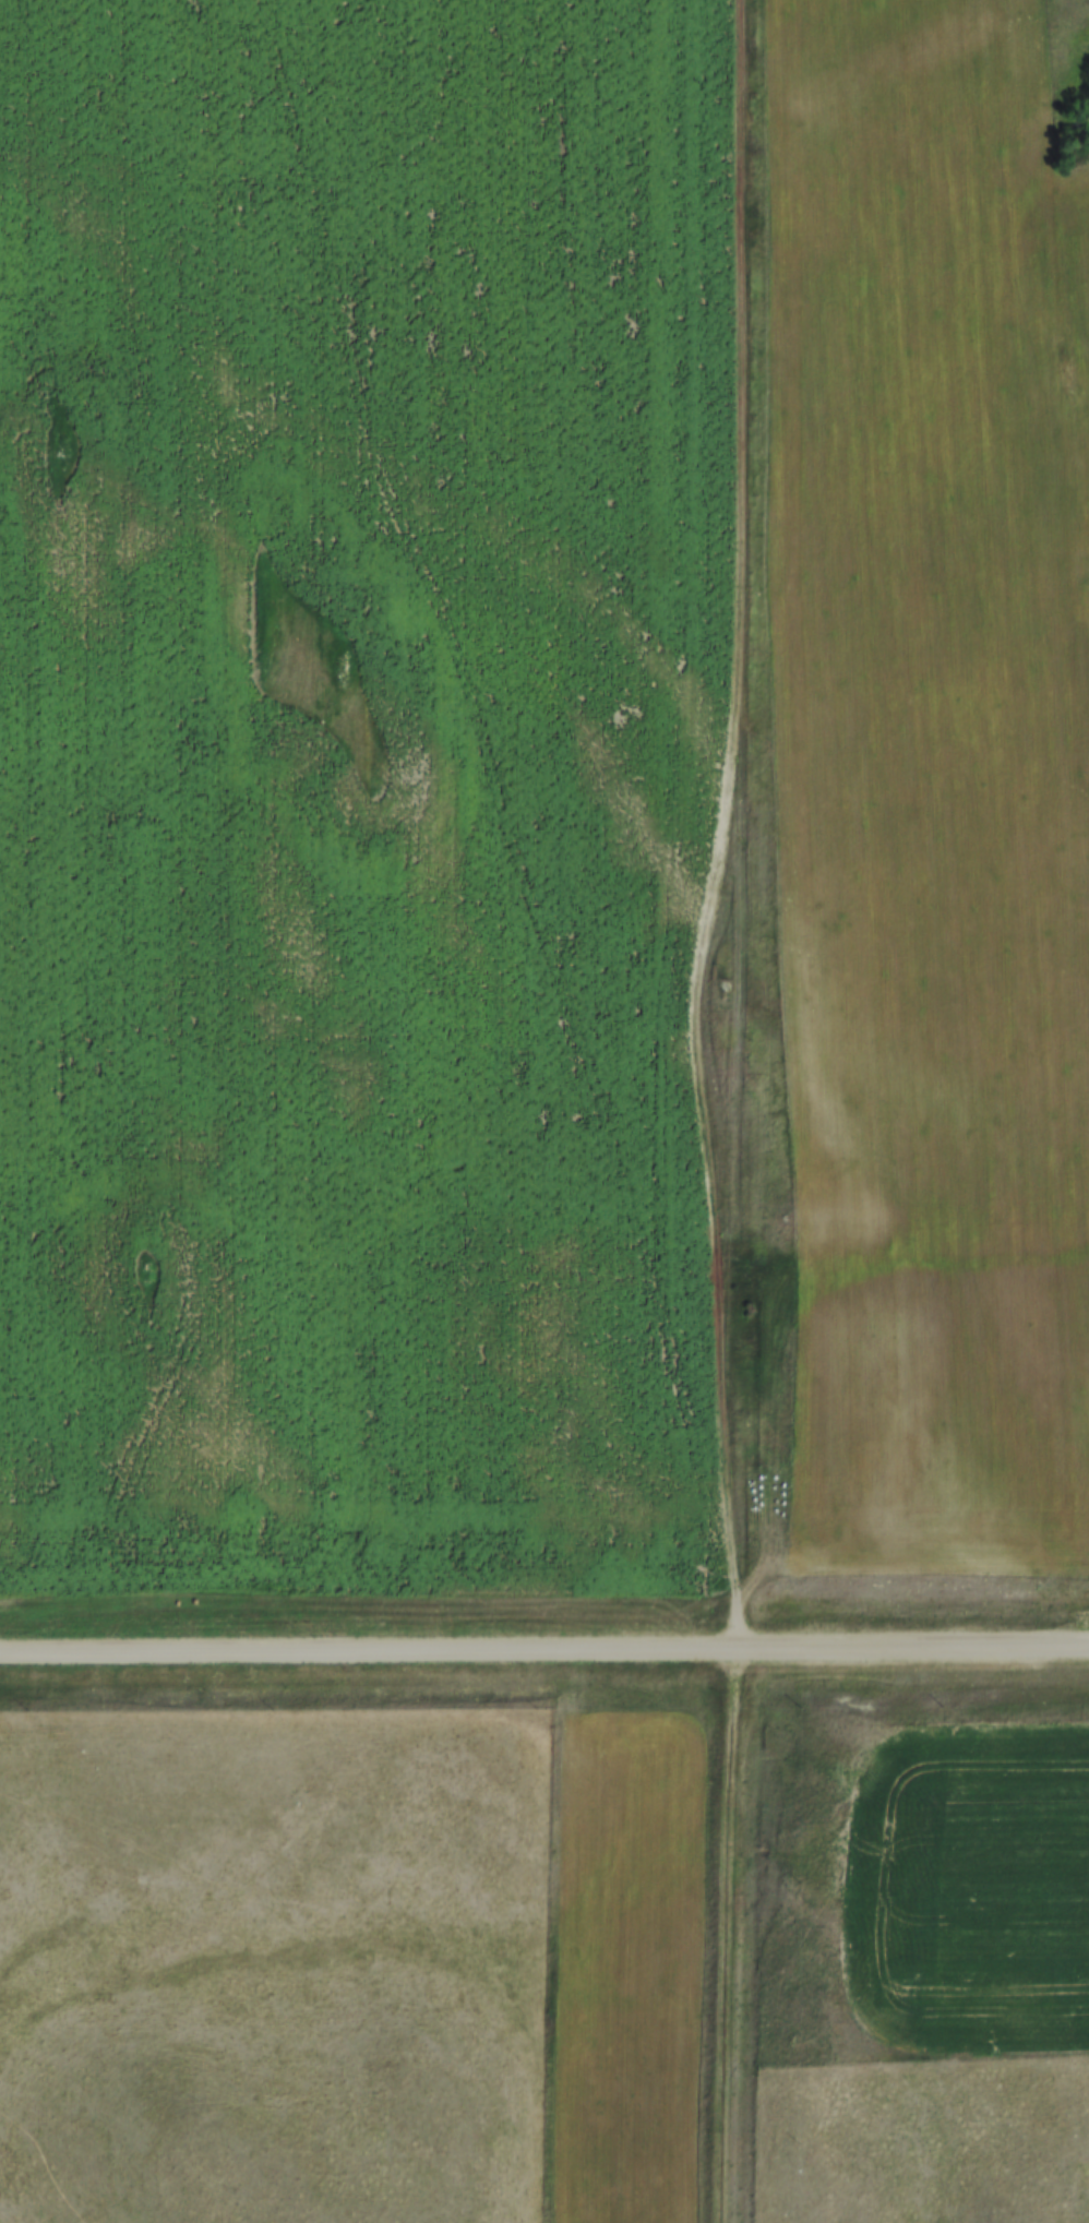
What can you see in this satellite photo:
road: (721, 1109)
road: (544, 1636)

